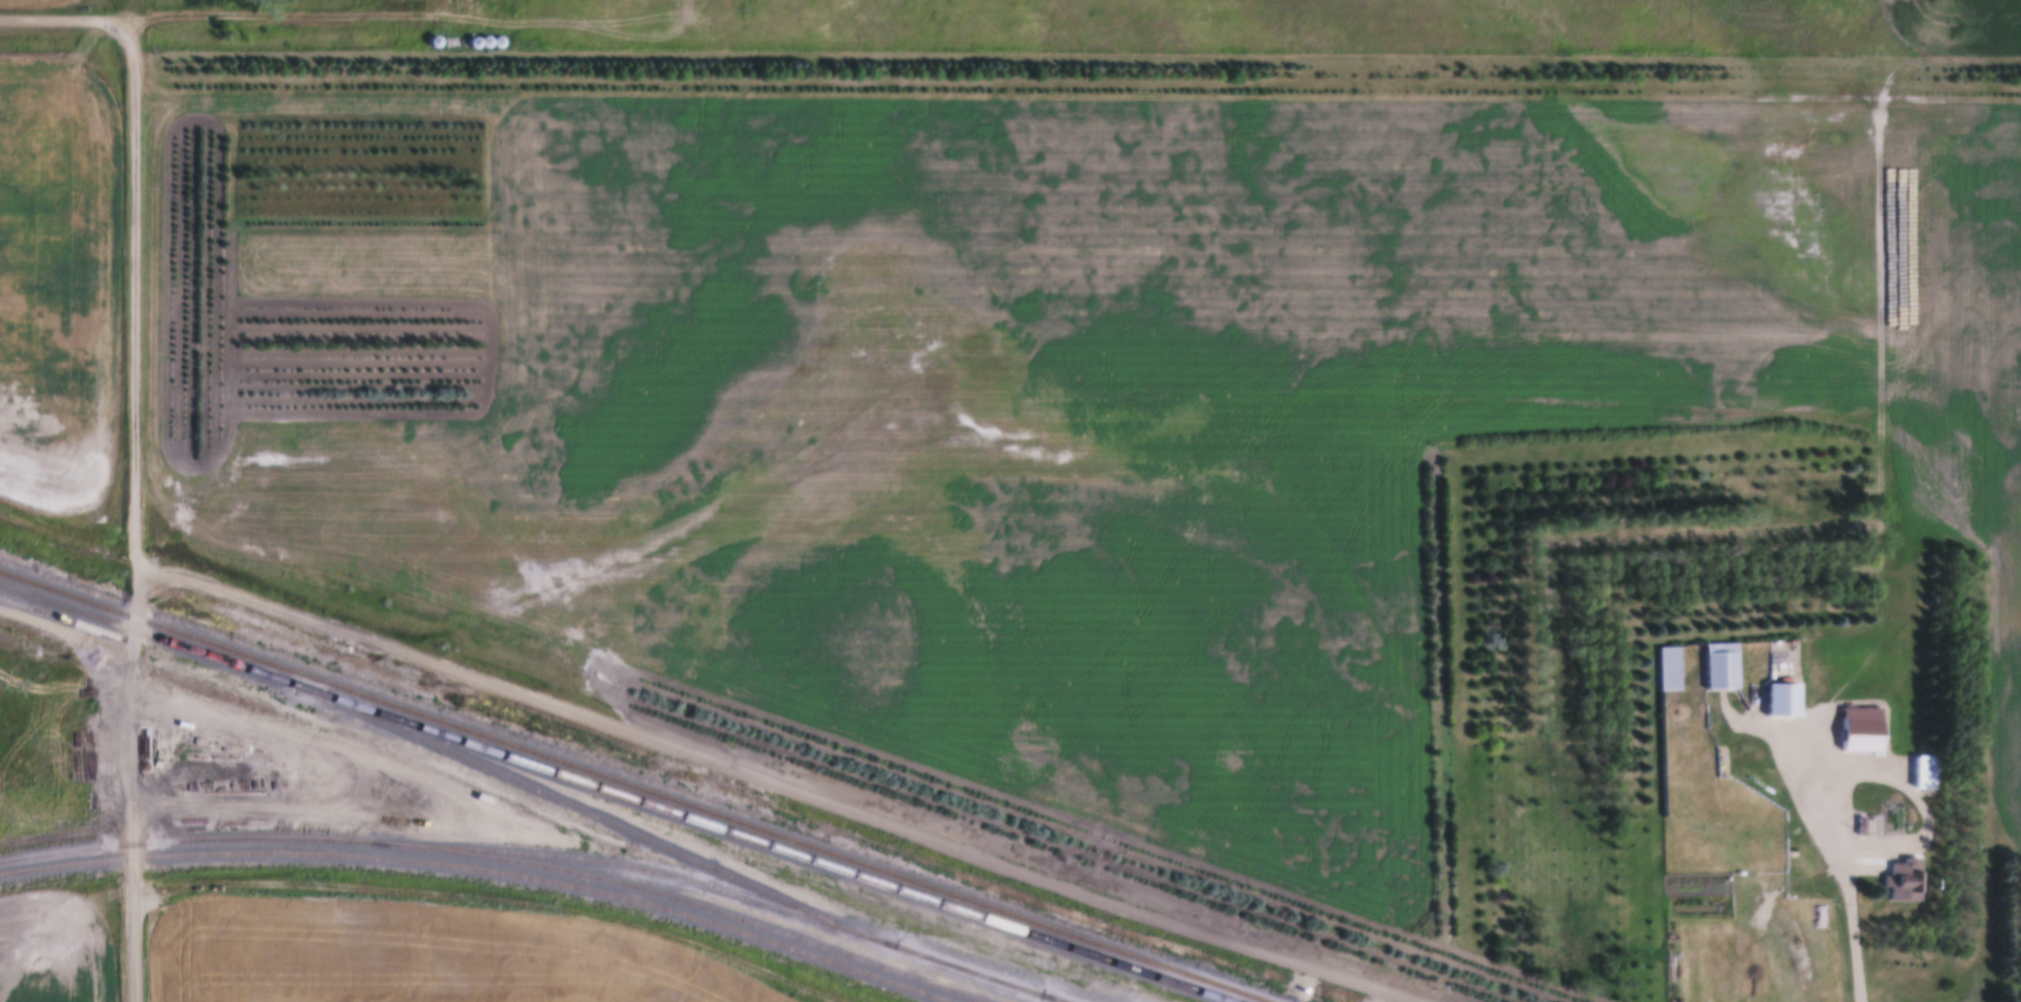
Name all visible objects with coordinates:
road: (77, 13)
road: (140, 308)
building: (1714, 656)
building: (1661, 657)
building: (1775, 690)
road: (134, 707)
building: (1854, 718)
building: (1918, 761)
building: (1722, 762)
road: (799, 777)
building: (1744, 777)
railway: (631, 787)
building: (1746, 791)
railway: (611, 794)
building: (1855, 814)
railway: (188, 840)
building: (1799, 868)
building: (1896, 869)
road: (1855, 877)
railway: (724, 889)
railway: (685, 902)
road: (134, 923)
railway: (924, 945)
railway: (952, 970)
building: (1296, 980)
railway: (1241, 995)

